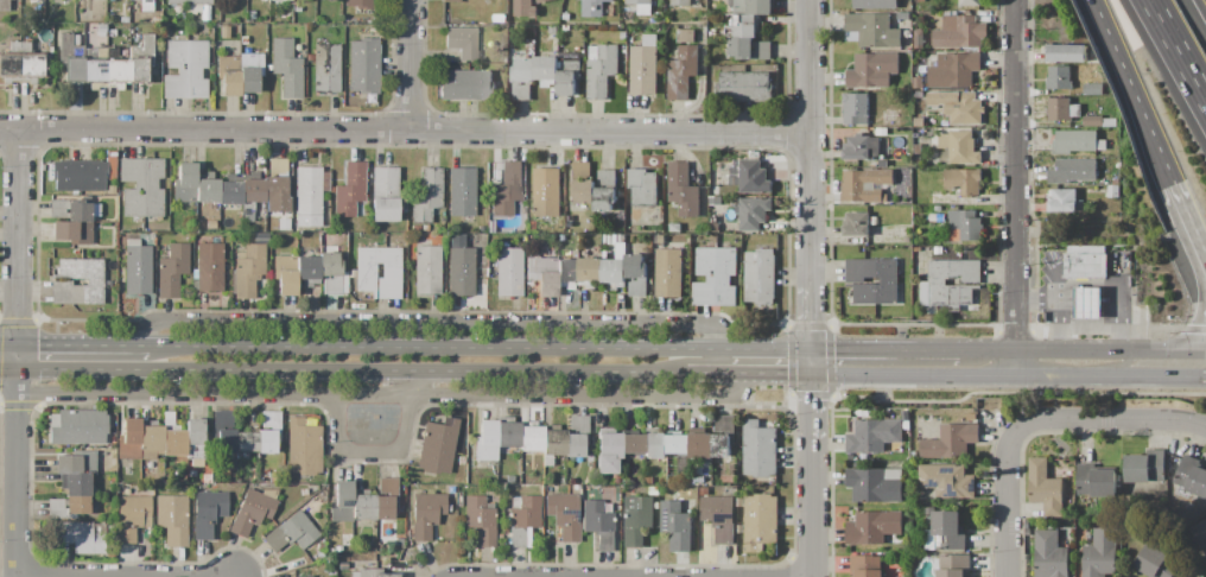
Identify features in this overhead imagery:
building: (277, 0)
building: (451, 1)
building: (541, 1)
building: (17, 2)
building: (189, 2)
building: (681, 2)
building: (970, 2)
building: (360, 4)
building: (875, 4)
building: (4, 5)
building: (145, 6)
building: (641, 6)
road: (1202, 6)
building: (297, 8)
building: (525, 8)
building: (597, 8)
building: (748, 15)
building: (247, 17)
building: (566, 17)
building: (155, 19)
building: (500, 19)
building: (123, 20)
building: (233, 28)
building: (552, 30)
building: (101, 31)
building: (874, 31)
building: (224, 32)
building: (959, 32)
building: (110, 33)
building: (623, 36)
building: (686, 37)
road: (1110, 38)
building: (76, 39)
building: (243, 40)
building: (919, 40)
building: (462, 42)
building: (741, 49)
road: (1176, 49)
building: (762, 50)
building: (102, 52)
building: (123, 53)
building: (1066, 53)
building: (309, 57)
building: (69, 58)
building: (141, 58)
building: (20, 61)
building: (363, 66)
road: (412, 66)
building: (645, 66)
building: (268, 68)
building: (286, 68)
building: (326, 69)
building: (602, 69)
building: (119, 70)
building: (185, 70)
building: (871, 70)
building: (954, 70)
building: (95, 71)
building: (547, 71)
building: (249, 72)
building: (683, 72)
building: (570, 74)
building: (228, 75)
building: (1059, 77)
building: (523, 78)
building: (918, 83)
building: (466, 85)
building: (745, 87)
building: (1092, 89)
building: (855, 108)
building: (1062, 109)
building: (966, 110)
building: (1092, 121)
building: (1109, 122)
road: (1145, 122)
building: (881, 131)
road: (404, 132)
building: (1075, 141)
building: (865, 147)
building: (960, 147)
building: (918, 148)
building: (918, 160)
building: (559, 161)
building: (110, 165)
building: (275, 166)
building: (1113, 166)
building: (1072, 171)
building: (80, 175)
road: (808, 177)
building: (753, 178)
building: (963, 182)
building: (184, 183)
building: (582, 185)
building: (864, 186)
building: (141, 188)
building: (508, 188)
building: (642, 188)
building: (274, 189)
building: (110, 190)
building: (252, 190)
building: (349, 190)
building: (683, 190)
road: (1016, 190)
building: (207, 191)
building: (462, 191)
building: (605, 191)
building: (229, 194)
building: (621, 194)
building: (385, 195)
road: (1178, 195)
building: (307, 196)
building: (426, 196)
building: (547, 197)
building: (1065, 202)
building: (674, 205)
building: (247, 208)
building: (938, 209)
building: (754, 213)
building: (247, 217)
building: (937, 217)
building: (72, 220)
building: (209, 224)
building: (857, 224)
building: (965, 226)
building: (675, 228)
building: (189, 236)
building: (561, 237)
road: (14, 239)
building: (660, 239)
road: (1198, 239)
building: (614, 240)
building: (328, 241)
building: (938, 251)
road: (1198, 252)
building: (1086, 261)
building: (635, 265)
building: (209, 266)
building: (307, 267)
building: (427, 267)
building: (459, 267)
building: (137, 268)
building: (171, 270)
building: (248, 270)
building: (366, 271)
building: (509, 271)
building: (590, 272)
building: (614, 272)
building: (669, 273)
road: (1053, 273)
building: (332, 274)
building: (551, 274)
building: (285, 275)
building: (760, 277)
building: (716, 279)
building: (61, 283)
building: (891, 283)
building: (108, 284)
building: (952, 285)
building: (637, 286)
road: (1116, 286)
building: (1088, 303)
road: (1062, 304)
road: (445, 325)
road: (1195, 336)
road: (7, 344)
traffic signals: (14, 345)
road: (84, 347)
road: (444, 354)
road: (774, 354)
traffic signals: (814, 354)
road: (887, 354)
road: (1069, 356)
road: (1193, 356)
road: (7, 367)
traffic signals: (14, 367)
road: (814, 367)
road: (349, 375)
road: (728, 380)
road: (792, 380)
traffic signals: (814, 380)
road: (1007, 380)
road: (1202, 381)
road: (423, 392)
road: (396, 405)
building: (906, 414)
road: (1115, 424)
building: (906, 425)
building: (80, 427)
building: (193, 432)
building: (268, 432)
building: (223, 435)
building: (576, 436)
building: (723, 436)
building: (875, 437)
building: (151, 438)
building: (172, 438)
building: (495, 438)
building: (128, 439)
building: (531, 439)
building: (952, 442)
building: (246, 443)
building: (655, 443)
building: (631, 444)
building: (303, 445)
building: (552, 445)
building: (702, 445)
building: (437, 446)
building: (679, 446)
building: (608, 450)
building: (760, 450)
building: (914, 455)
road: (377, 456)
building: (589, 458)
road: (15, 461)
building: (461, 461)
building: (195, 463)
building: (1145, 467)
building: (128, 471)
building: (191, 474)
building: (265, 474)
building: (1193, 477)
building: (205, 478)
building: (615, 478)
road: (814, 478)
building: (522, 480)
building: (648, 480)
building: (692, 481)
building: (945, 482)
building: (1096, 482)
building: (72, 484)
building: (875, 484)
building: (576, 488)
building: (1045, 488)
building: (184, 489)
building: (547, 489)
building: (303, 492)
building: (653, 492)
building: (704, 492)
building: (584, 494)
building: (386, 499)
building: (459, 499)
building: (341, 502)
building: (740, 502)
building: (958, 503)
road: (1018, 503)
building: (362, 505)
building: (254, 511)
building: (928, 511)
building: (525, 512)
building: (208, 513)
building: (426, 514)
building: (564, 514)
building: (132, 516)
building: (719, 518)
building: (171, 519)
building: (481, 520)
building: (636, 520)
building: (760, 521)
building: (1205, 522)
building: (597, 525)
building: (677, 526)
building: (872, 527)
building: (741, 530)
building: (946, 532)
building: (290, 533)
building: (82, 537)
building: (520, 538)
building: (1204, 538)
building: (347, 540)
building: (320, 547)
building: (337, 549)
building: (319, 553)
building: (1102, 553)
building: (1051, 554)
building: (1156, 563)
building: (953, 565)
building: (342, 566)
building: (867, 566)
building: (330, 572)
building: (372, 573)
road: (13, 576)
road: (126, 576)
building: (309, 576)

